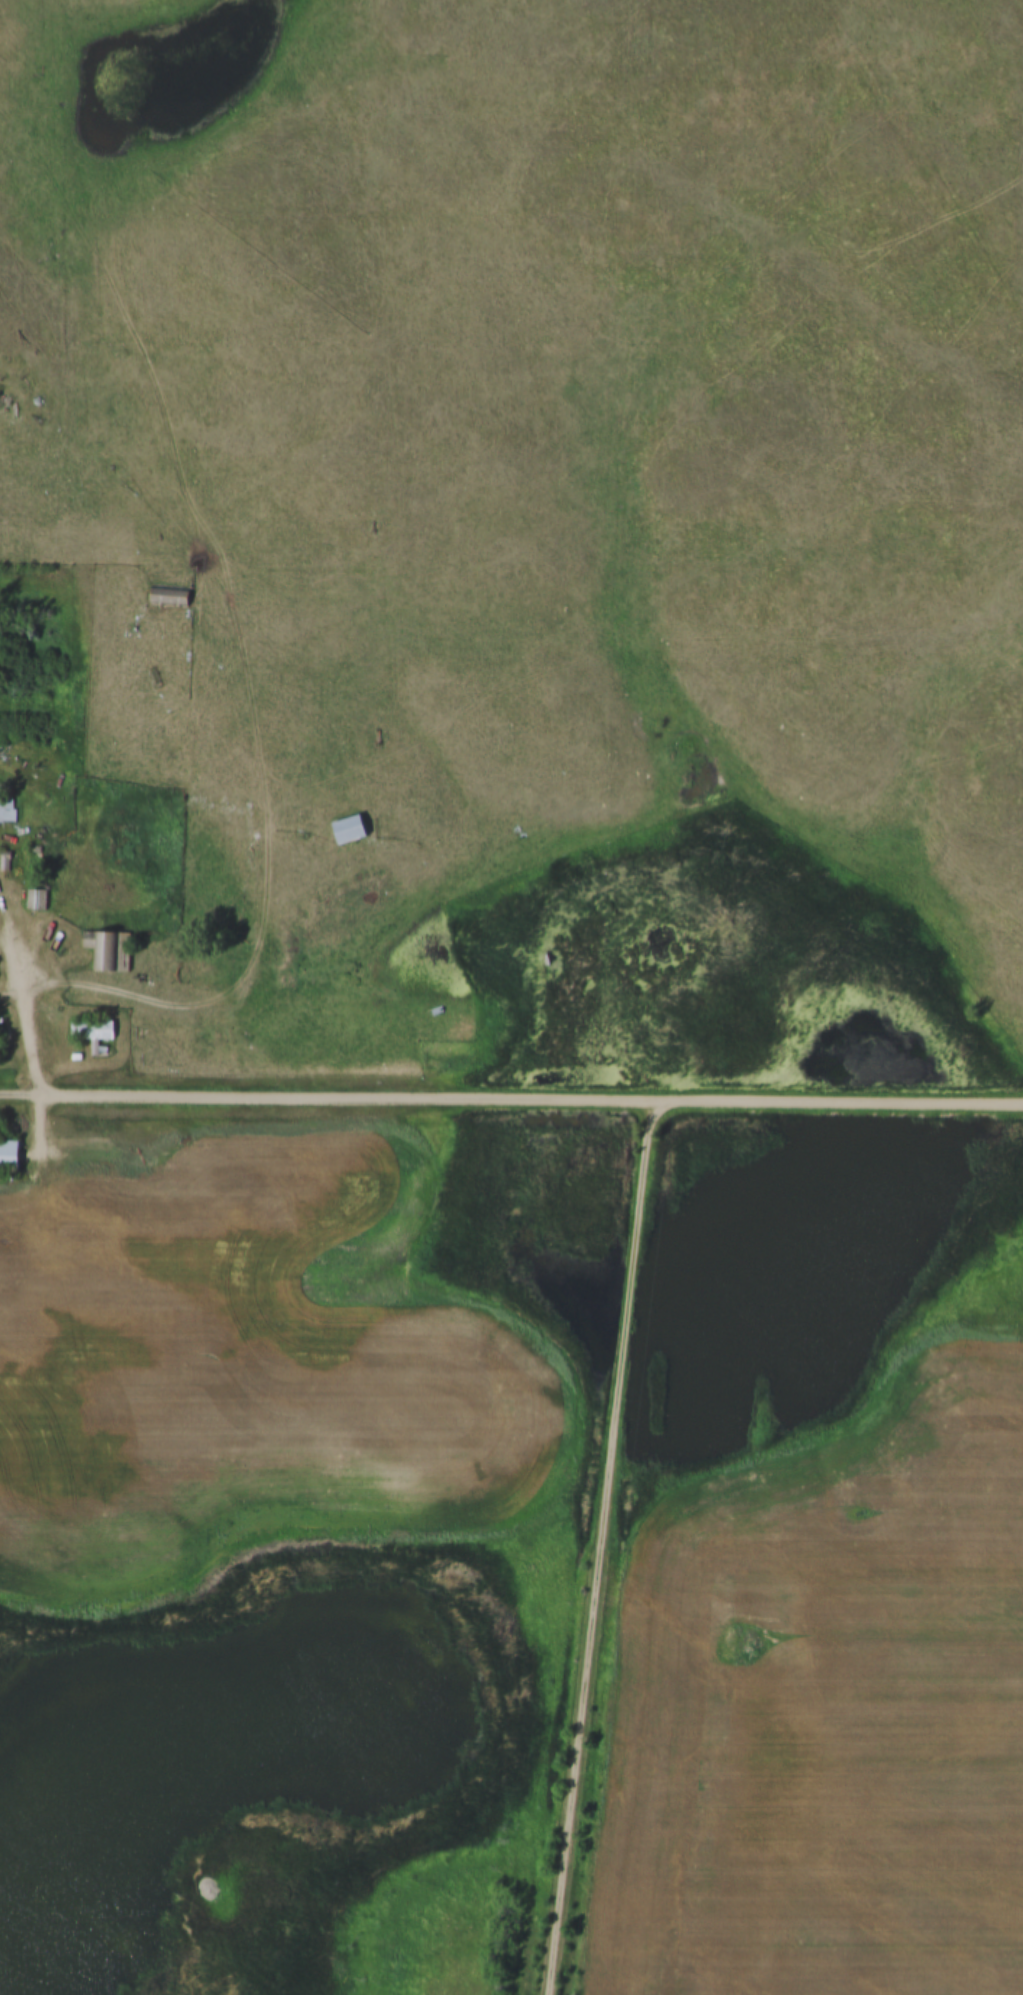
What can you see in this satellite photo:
building: (169, 597)
building: (7, 805)
building: (350, 828)
road: (10, 940)
building: (108, 950)
road: (11, 994)
road: (23, 994)
road: (204, 1010)
building: (93, 1033)
road: (18, 1095)
road: (529, 1100)
building: (9, 1154)
road: (603, 1547)

